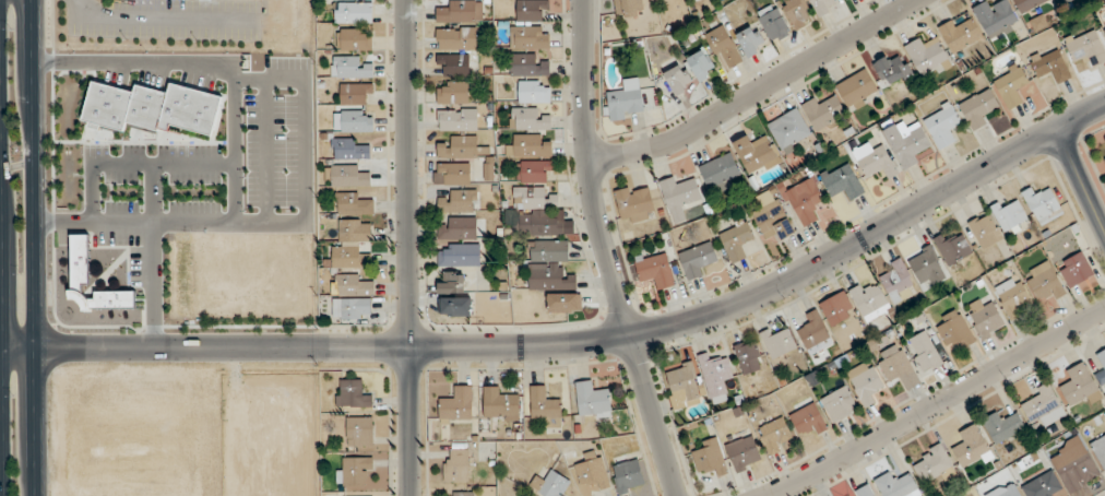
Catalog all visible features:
building: (1061, 0)
building: (1029, 4)
building: (823, 5)
building: (628, 7)
building: (532, 10)
building: (354, 12)
building: (461, 12)
building: (797, 12)
road: (159, 16)
building: (996, 17)
building: (773, 23)
building: (1104, 29)
building: (960, 34)
building: (530, 37)
building: (456, 38)
building: (354, 39)
building: (751, 40)
building: (724, 47)
building: (1086, 48)
building: (927, 56)
building: (454, 64)
building: (701, 64)
building: (527, 66)
building: (1051, 66)
building: (349, 68)
building: (892, 68)
building: (679, 80)
building: (1013, 86)
road: (755, 90)
building: (857, 90)
building: (534, 92)
building: (453, 93)
building: (626, 99)
building: (356, 108)
building: (978, 108)
building: (823, 113)
building: (528, 119)
building: (458, 120)
building: (942, 126)
building: (789, 130)
building: (907, 143)
building: (528, 146)
building: (462, 149)
building: (348, 150)
building: (757, 154)
building: (1104, 160)
building: (875, 161)
road: (0, 168)
building: (533, 172)
building: (454, 173)
building: (720, 174)
building: (347, 177)
building: (842, 181)
road: (1079, 181)
building: (679, 196)
building: (533, 199)
building: (805, 201)
building: (459, 202)
building: (634, 203)
building: (352, 204)
building: (1043, 205)
building: (1008, 215)
building: (773, 221)
building: (539, 225)
road: (151, 226)
building: (459, 229)
building: (985, 231)
building: (737, 240)
building: (352, 244)
road: (35, 247)
road: (407, 248)
building: (953, 249)
building: (547, 250)
road: (608, 251)
building: (459, 255)
building: (698, 260)
building: (80, 263)
building: (926, 267)
building: (655, 270)
building: (1076, 270)
building: (549, 277)
building: (898, 281)
building: (1045, 282)
building: (451, 283)
building: (354, 285)
road: (1, 286)
building: (1013, 297)
building: (870, 300)
building: (563, 303)
building: (455, 306)
building: (352, 308)
building: (836, 308)
building: (986, 317)
building: (955, 331)
building: (815, 333)
road: (580, 341)
building: (777, 343)
road: (0, 346)
building: (924, 352)
building: (747, 357)
building: (1102, 358)
building: (896, 367)
building: (715, 378)
building: (865, 382)
building: (1080, 385)
building: (682, 386)
building: (352, 394)
building: (592, 399)
building: (499, 403)
building: (456, 404)
building: (839, 404)
road: (937, 404)
building: (545, 406)
building: (1044, 406)
building: (807, 416)
building: (1005, 426)
building: (359, 433)
building: (774, 435)
building: (971, 448)
building: (1100, 450)
building: (744, 452)
building: (711, 458)
building: (1076, 464)
building: (456, 465)
building: (934, 465)
building: (354, 471)
building: (592, 472)
building: (628, 474)
building: (549, 485)
building: (896, 485)
building: (1044, 486)
building: (1006, 491)
building: (864, 492)
building: (463, 494)

